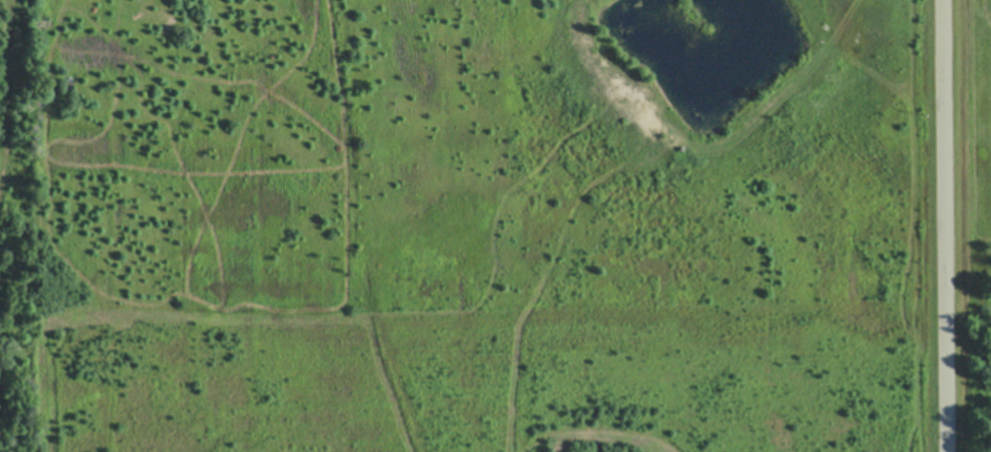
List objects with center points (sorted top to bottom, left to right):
road: (946, 226)

